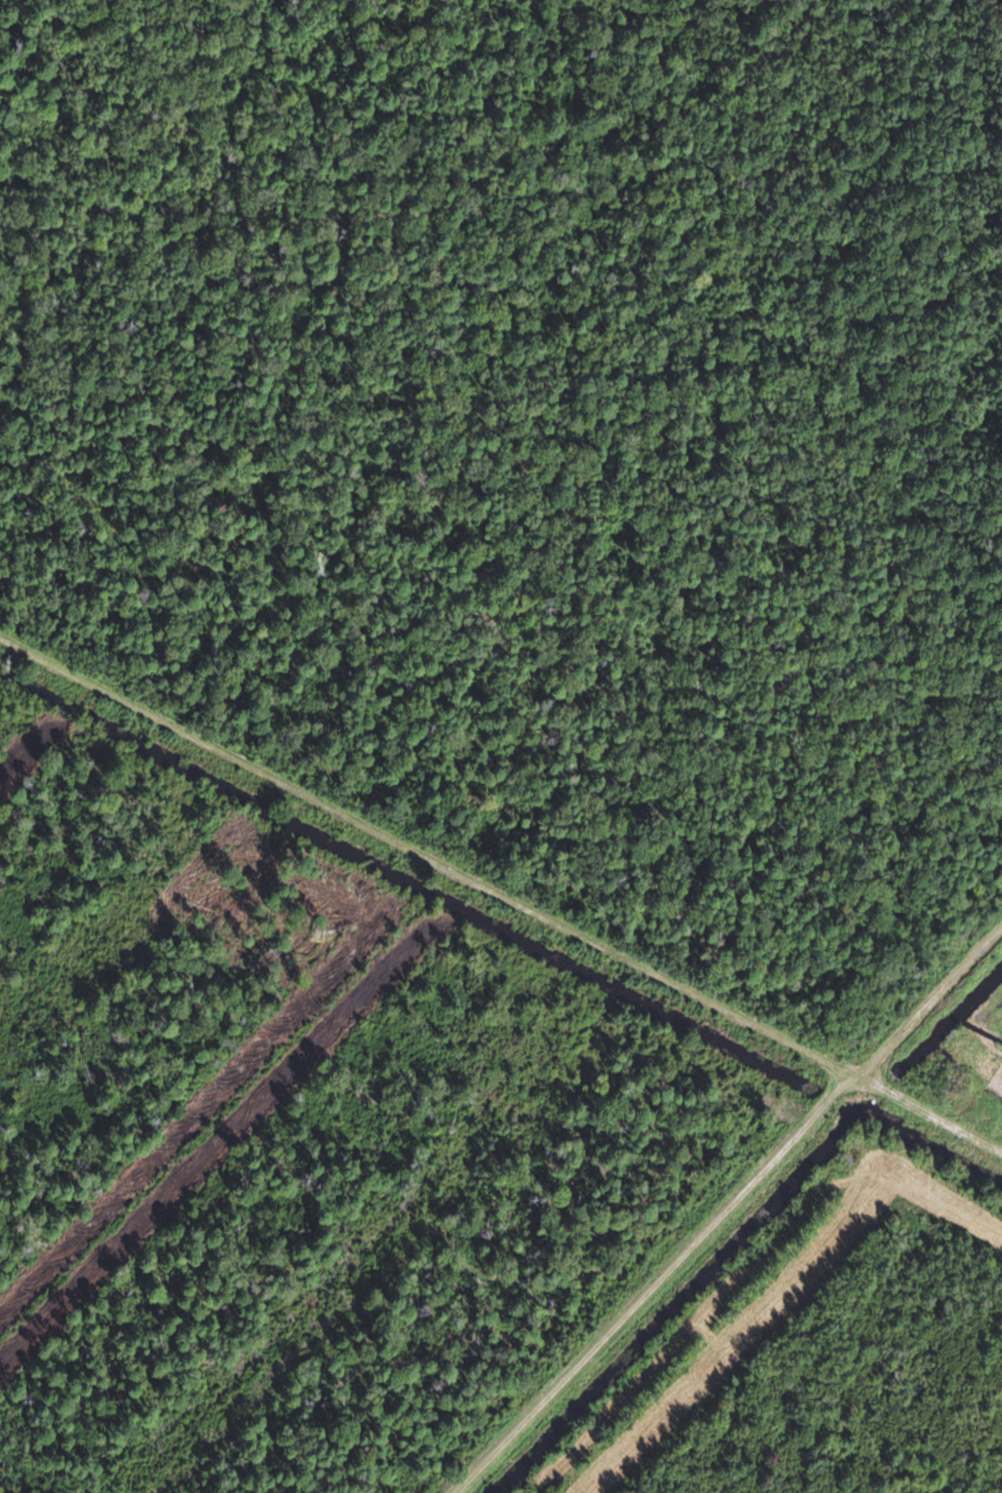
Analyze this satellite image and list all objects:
road: (501, 900)
crop: (981, 1044)
road: (725, 1207)

